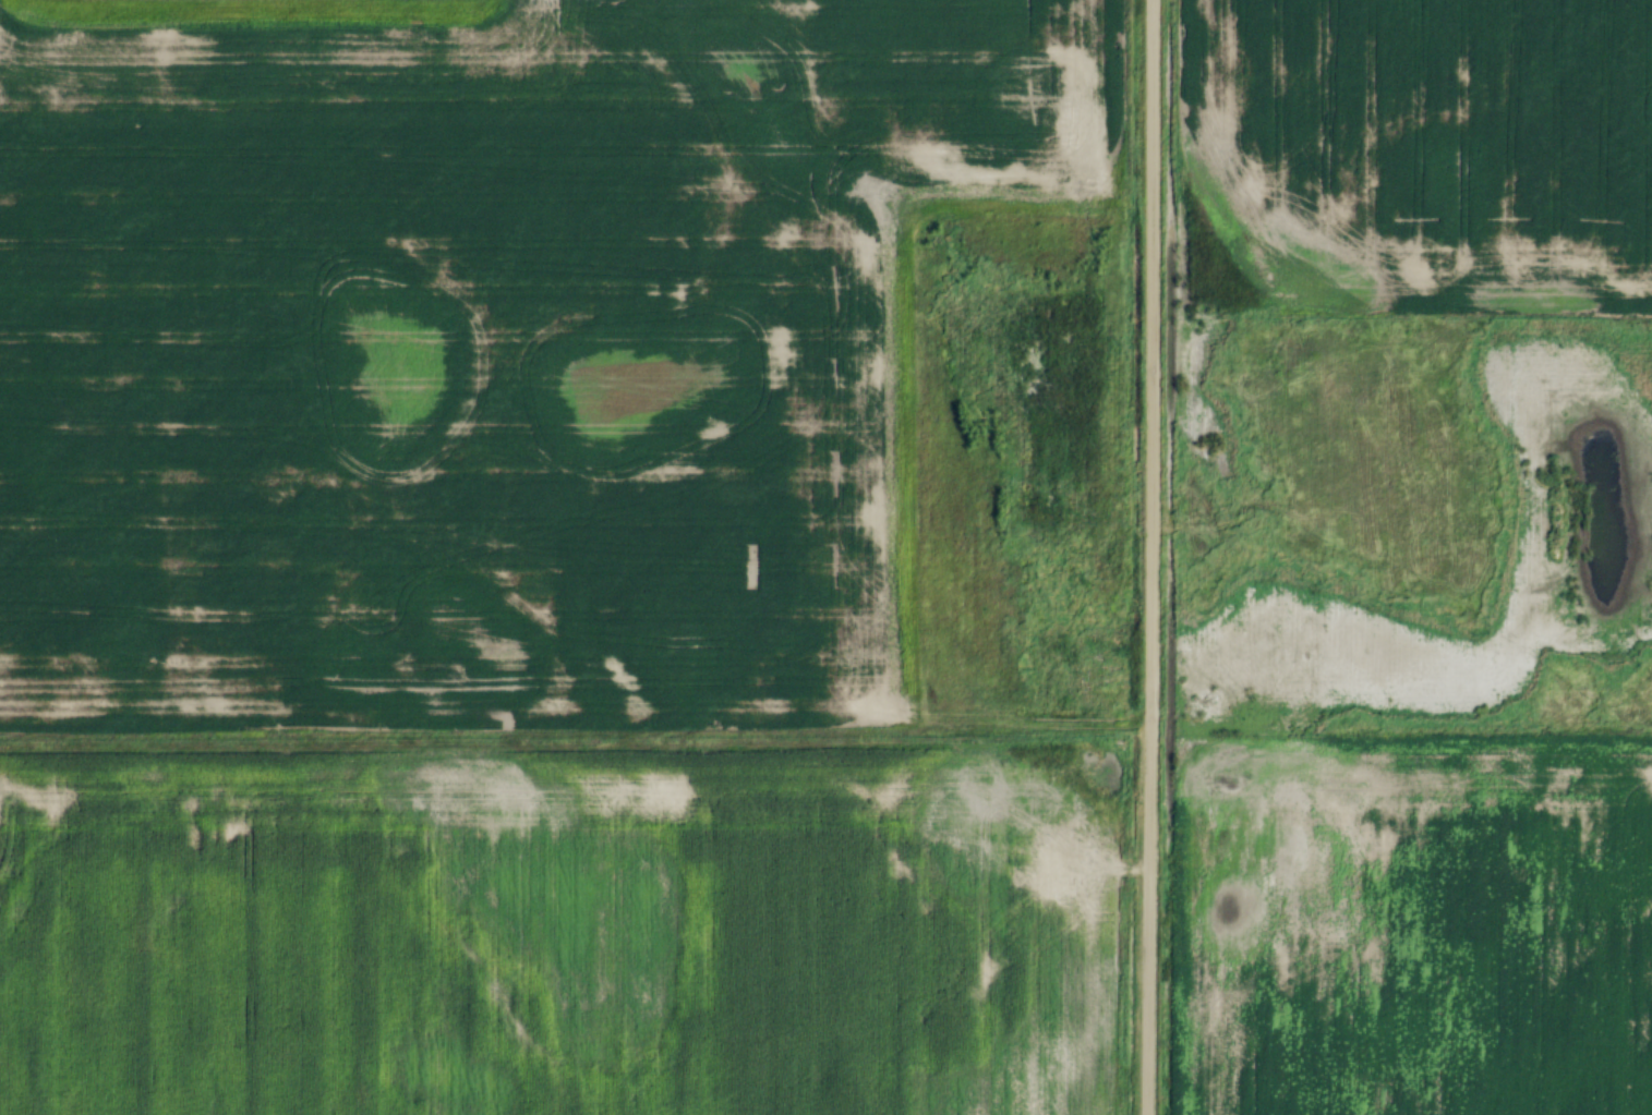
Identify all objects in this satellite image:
road: (1153, 557)

